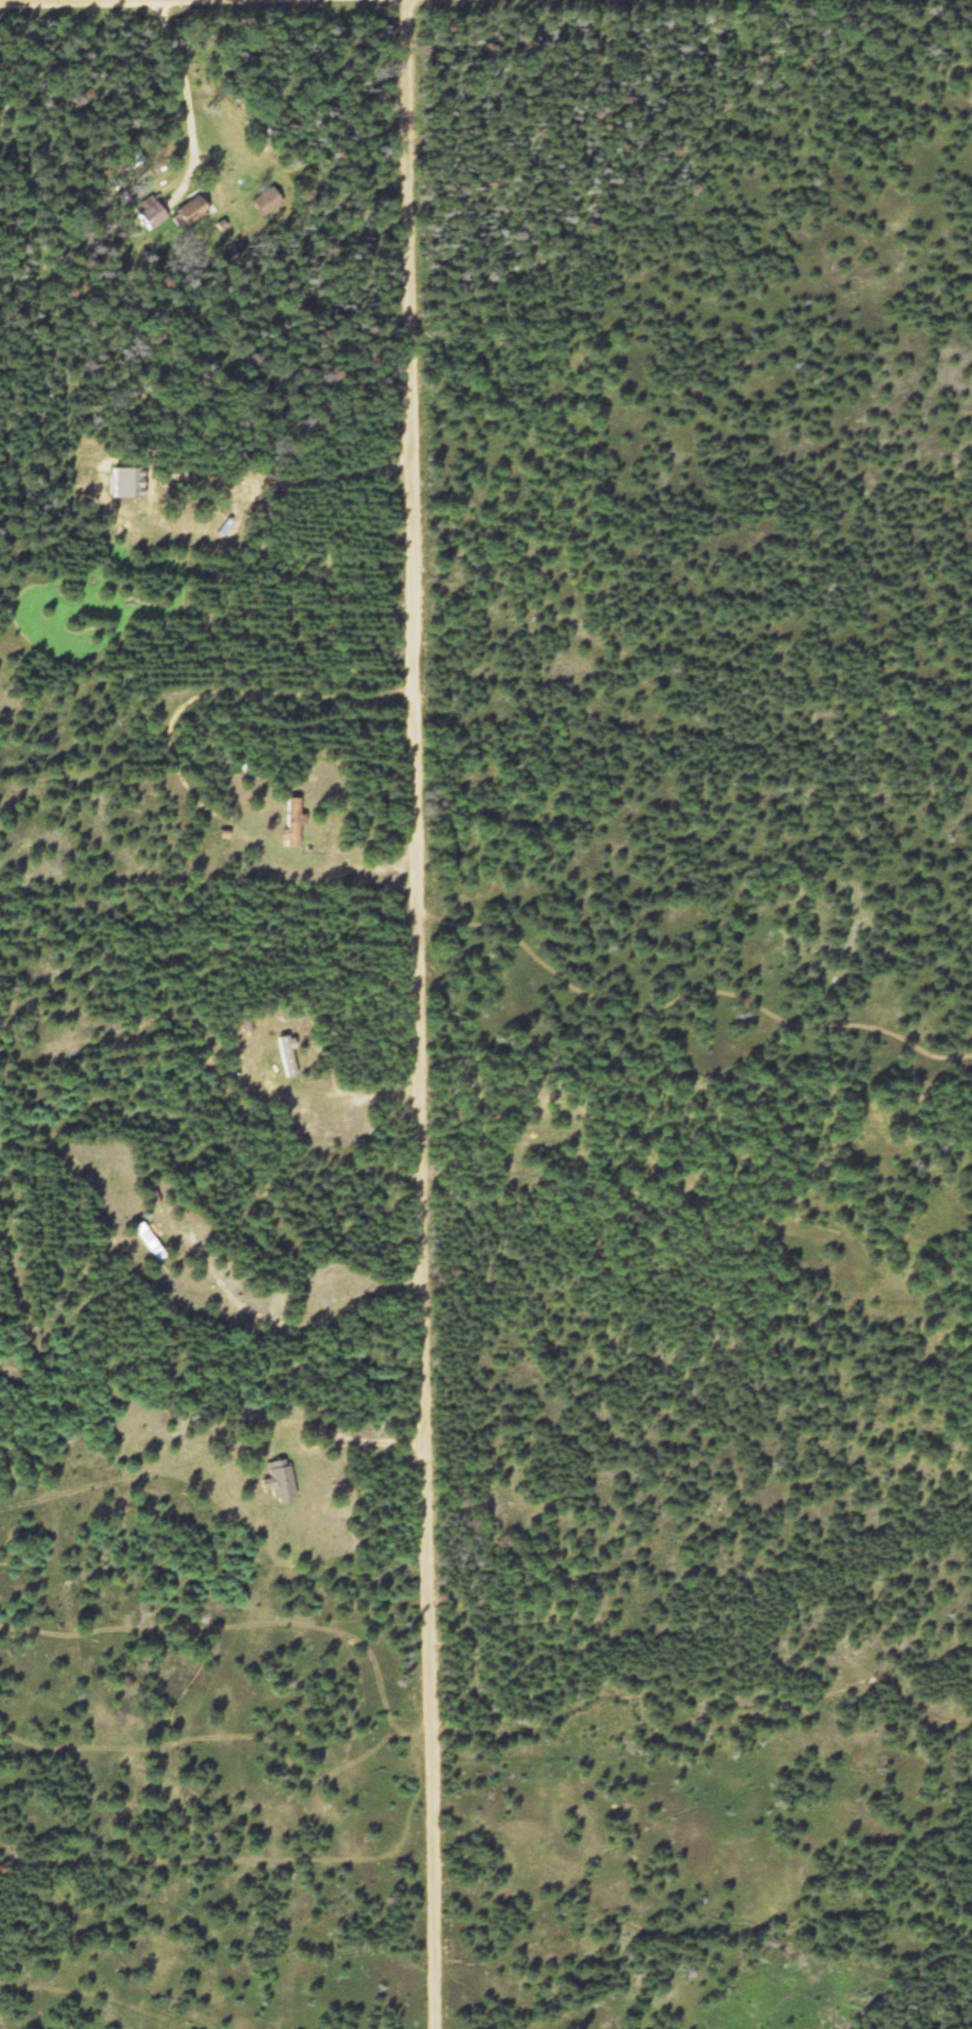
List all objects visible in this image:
road: (107, 1)
building: (135, 158)
building: (267, 203)
building: (191, 213)
building: (151, 214)
building: (125, 484)
building: (292, 824)
road: (689, 1002)
road: (422, 1014)
building: (288, 1057)
building: (150, 1243)
building: (280, 1484)

